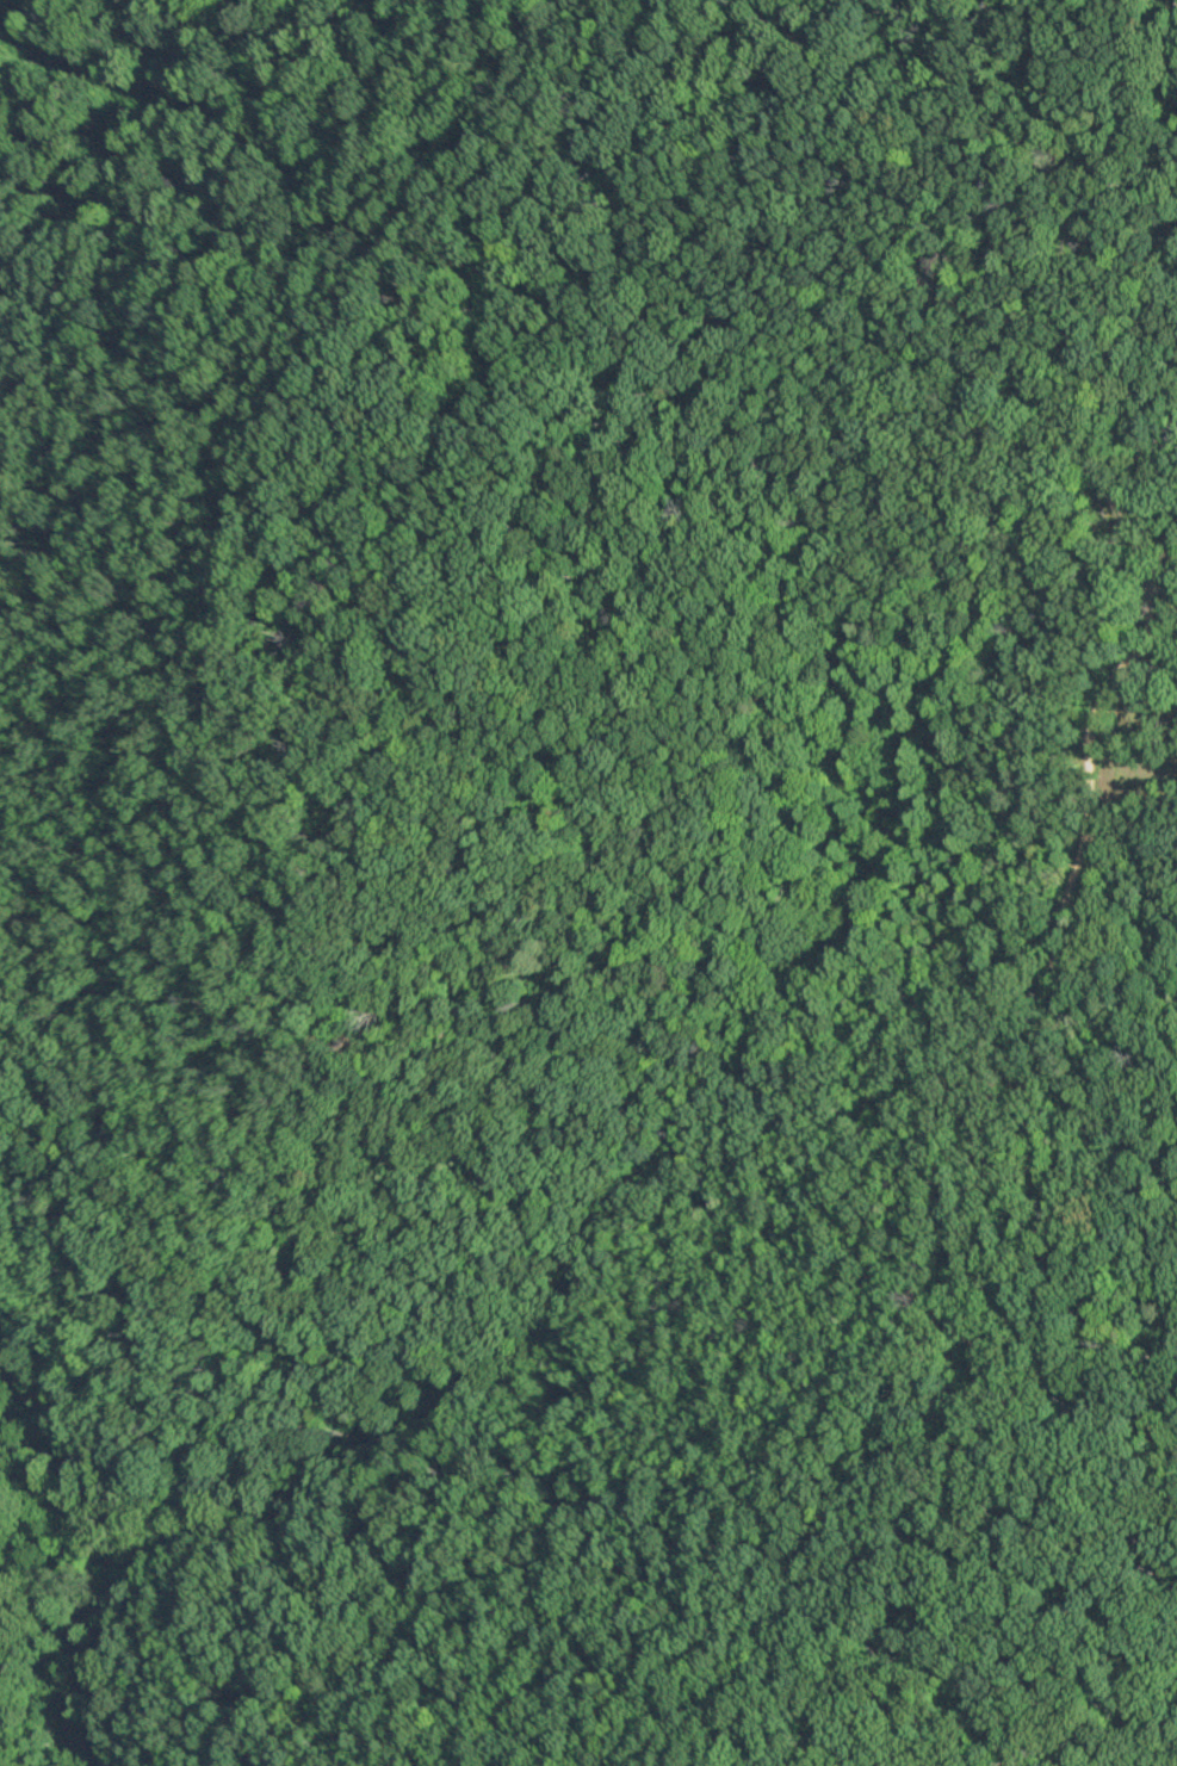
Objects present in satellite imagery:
road: (1011, 1119)
road: (94, 1562)

